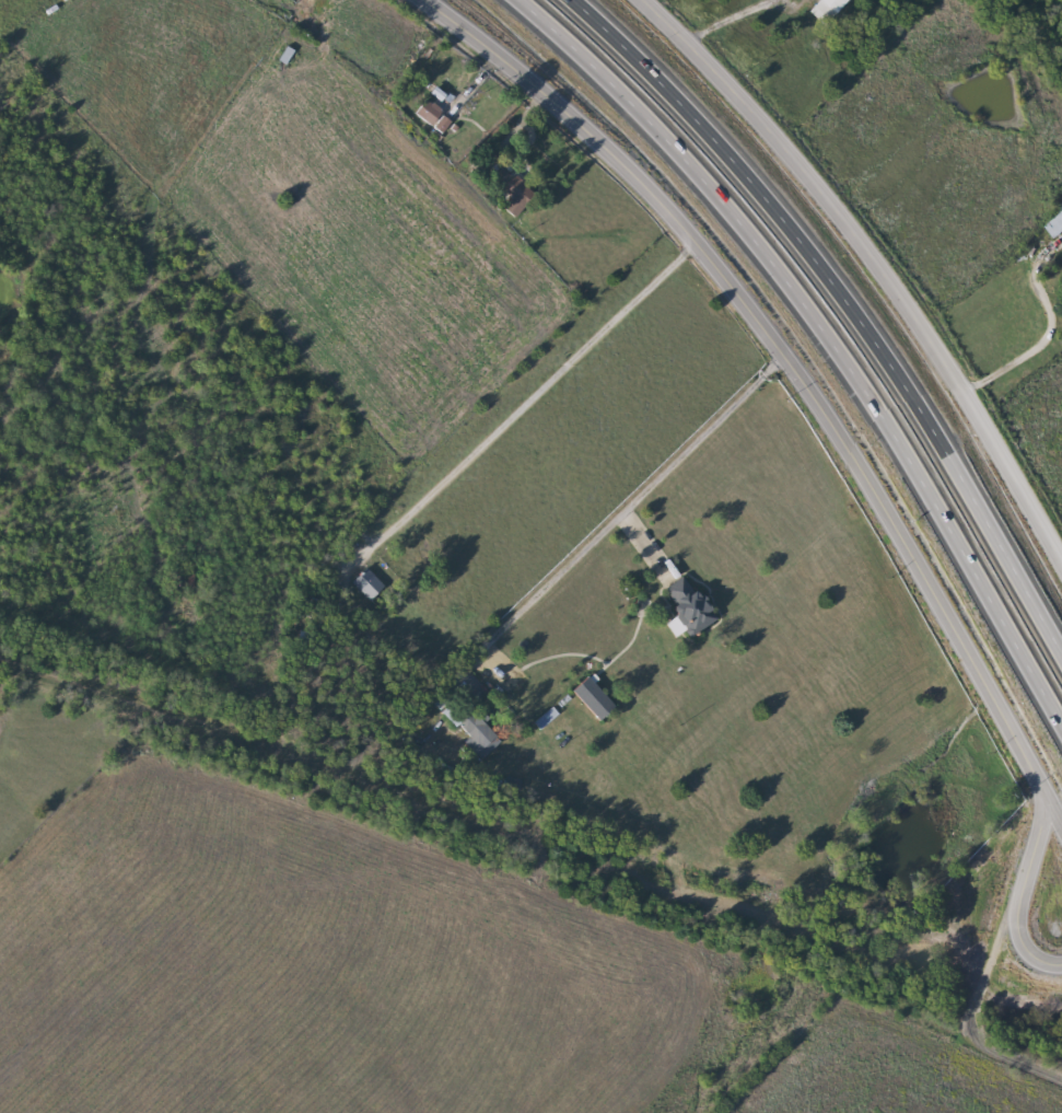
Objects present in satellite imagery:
building: (821, 9)
road: (724, 21)
road: (470, 90)
building: (421, 111)
road: (517, 124)
building: (507, 192)
building: (1053, 219)
road: (873, 260)
road: (847, 301)
road: (1048, 328)
road: (825, 329)
road: (783, 349)
road: (533, 398)
road: (634, 503)
building: (363, 582)
building: (684, 604)
building: (586, 697)
building: (468, 729)
road: (1029, 867)

